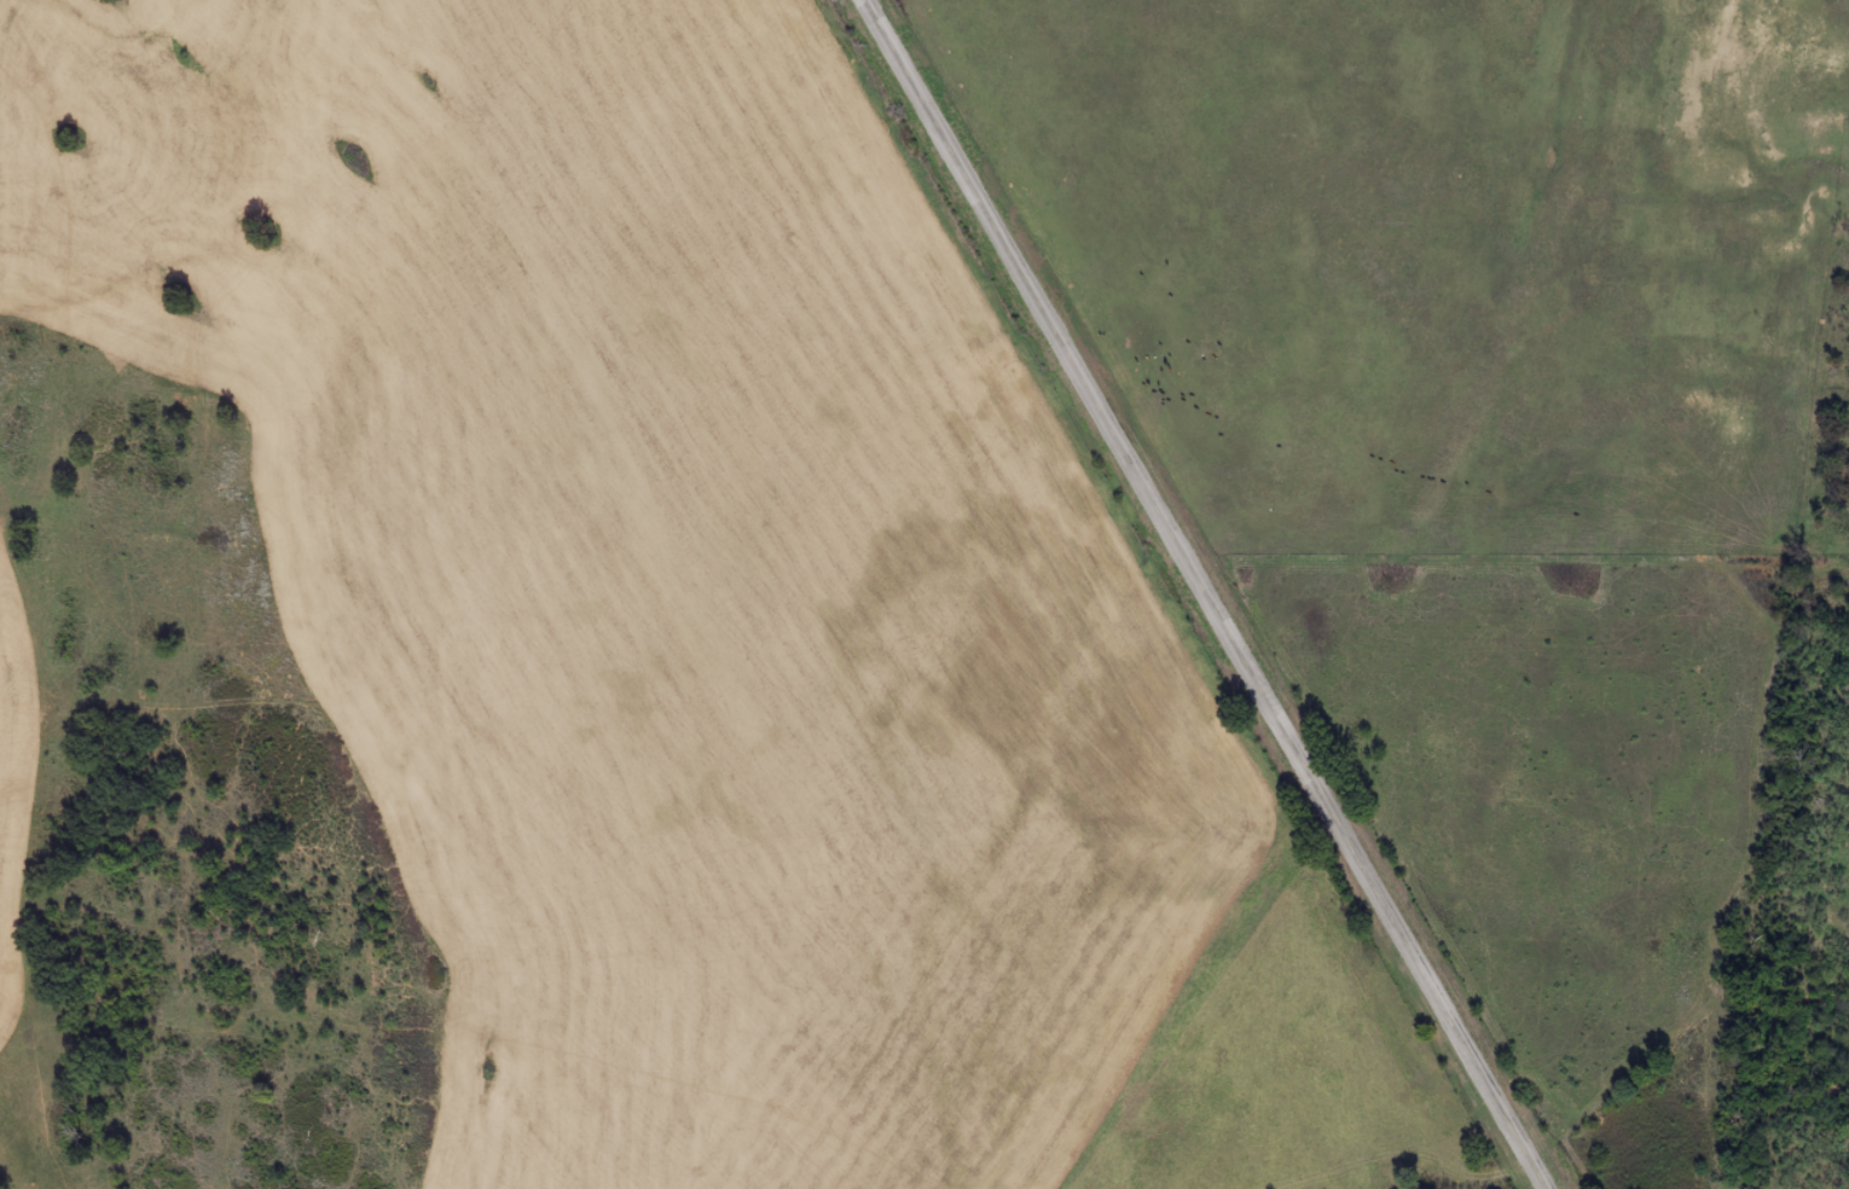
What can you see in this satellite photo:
road: (1211, 596)

